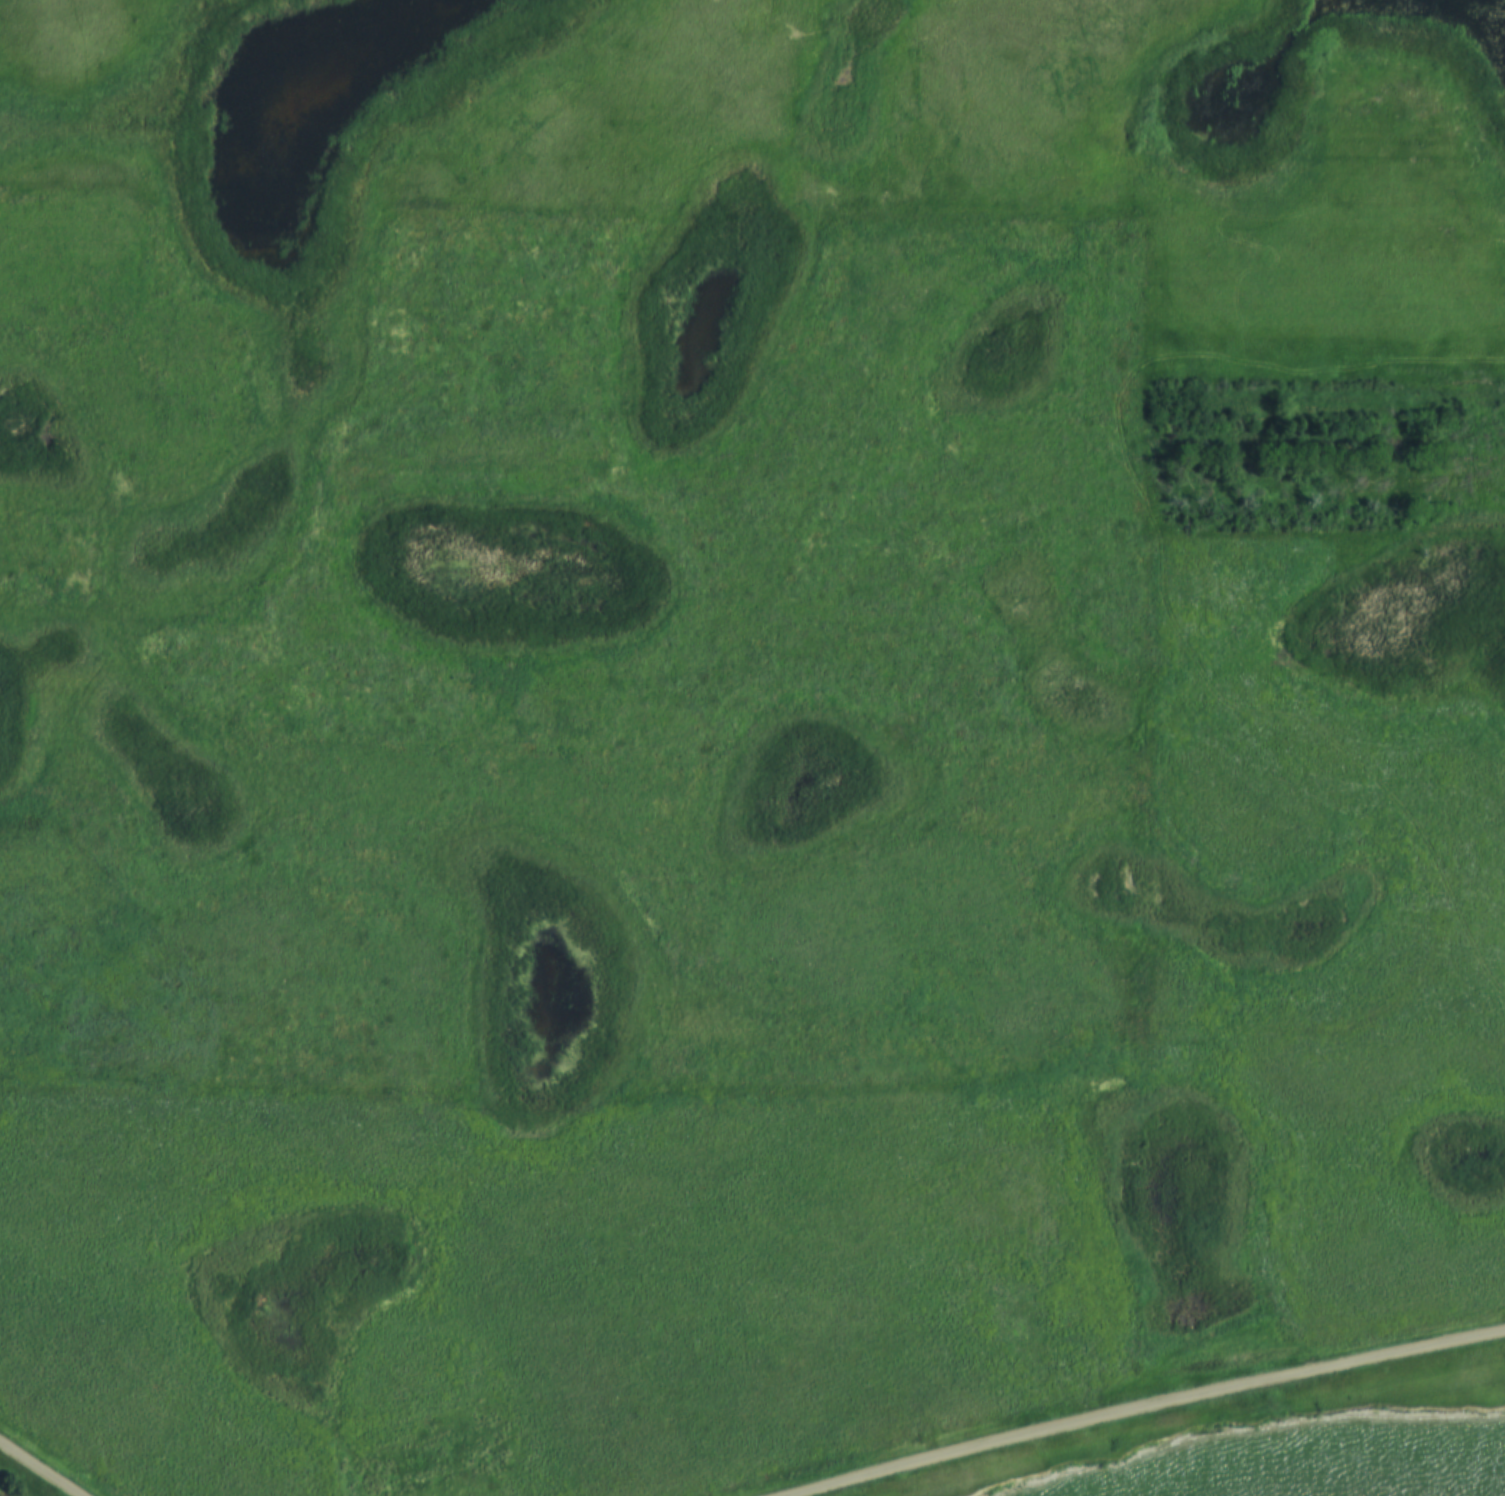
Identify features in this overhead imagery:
road: (1154, 1411)
road: (34, 1473)

